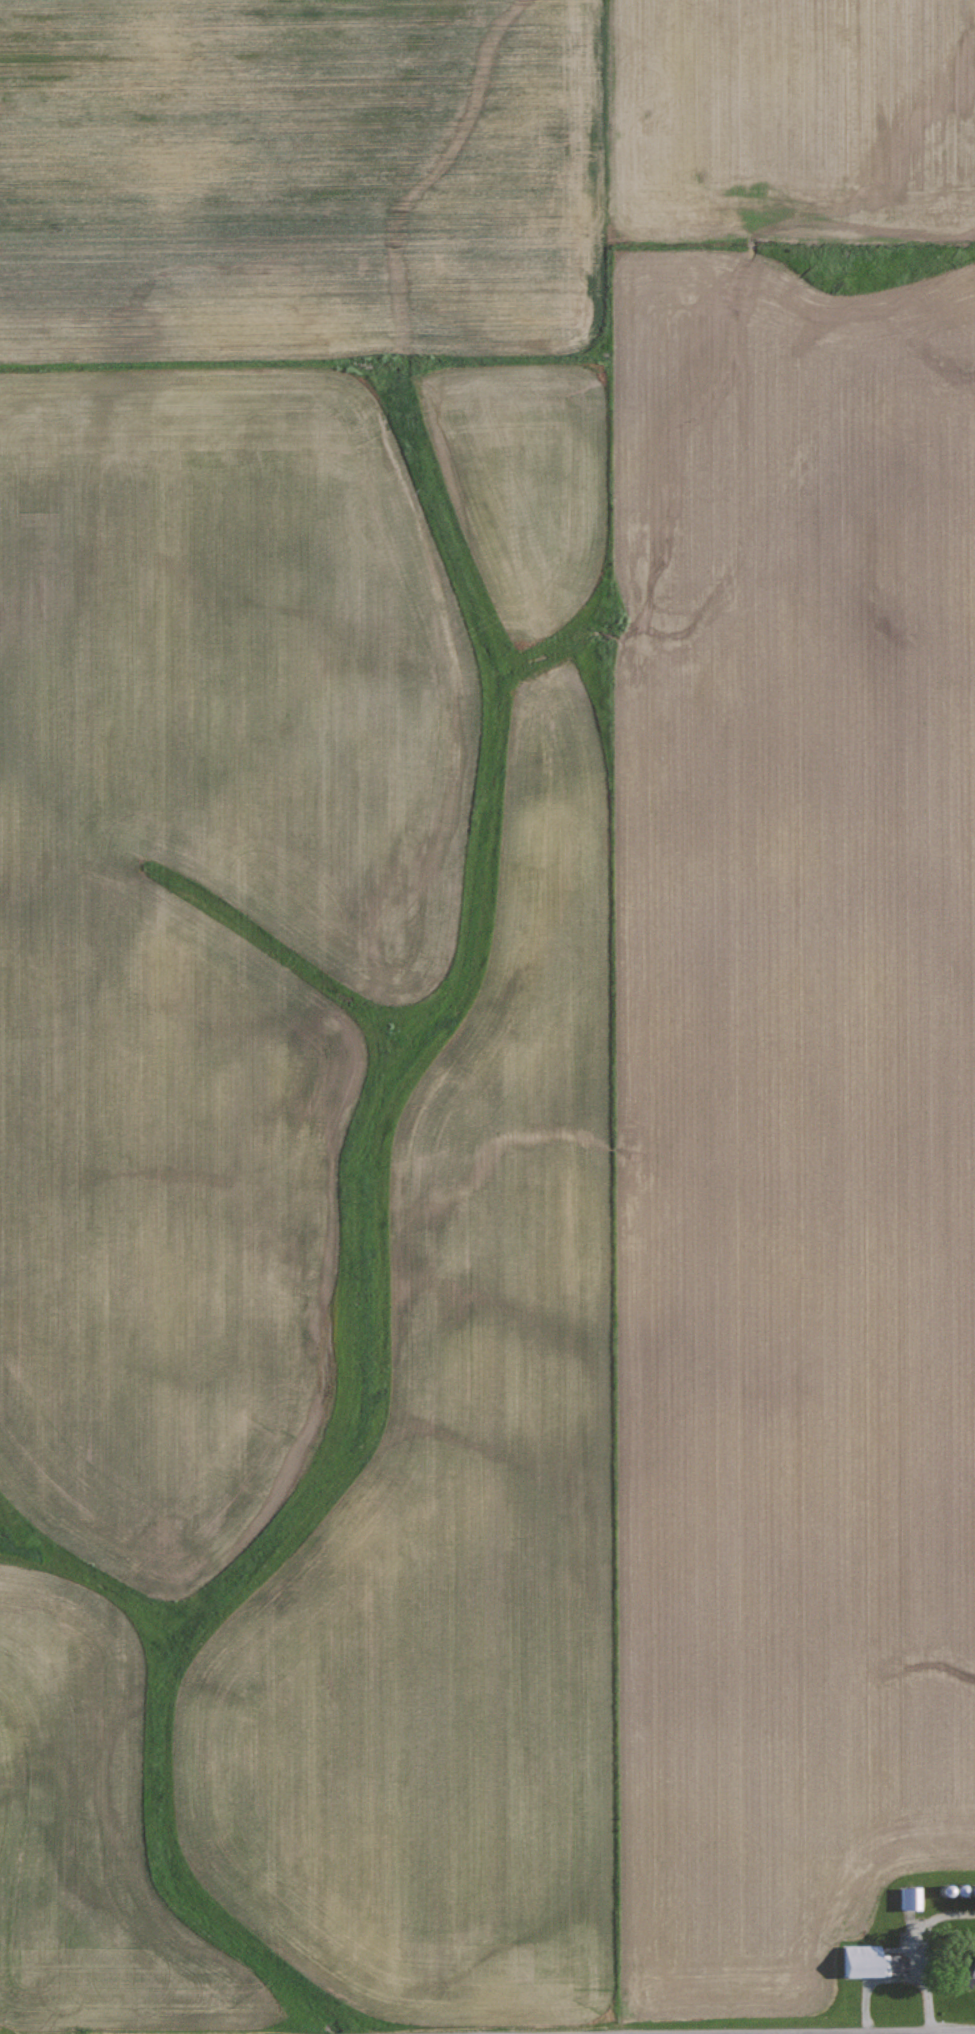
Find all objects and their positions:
crop: (483, 998)
building: (875, 1949)
road: (943, 2033)

